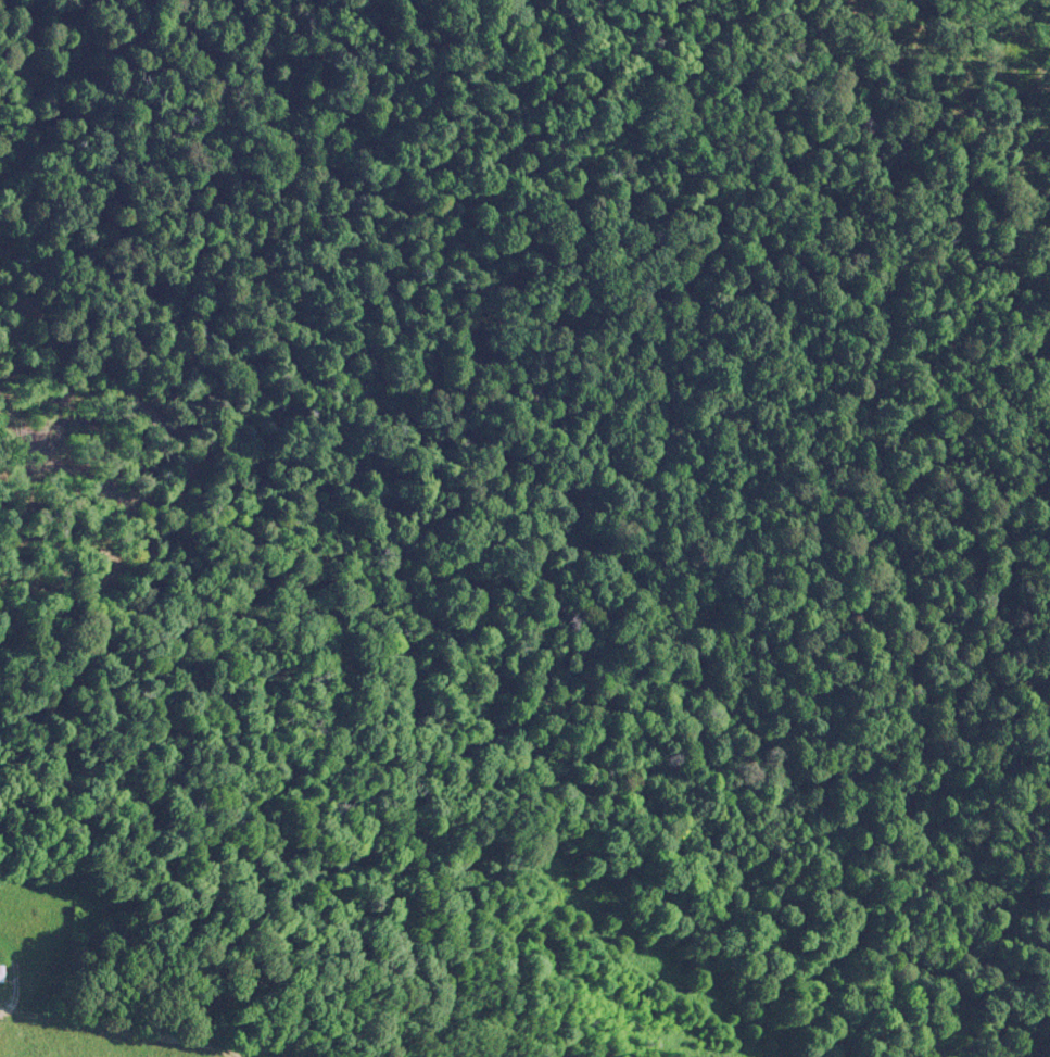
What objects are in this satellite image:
building: (0, 970)
road: (93, 1027)

